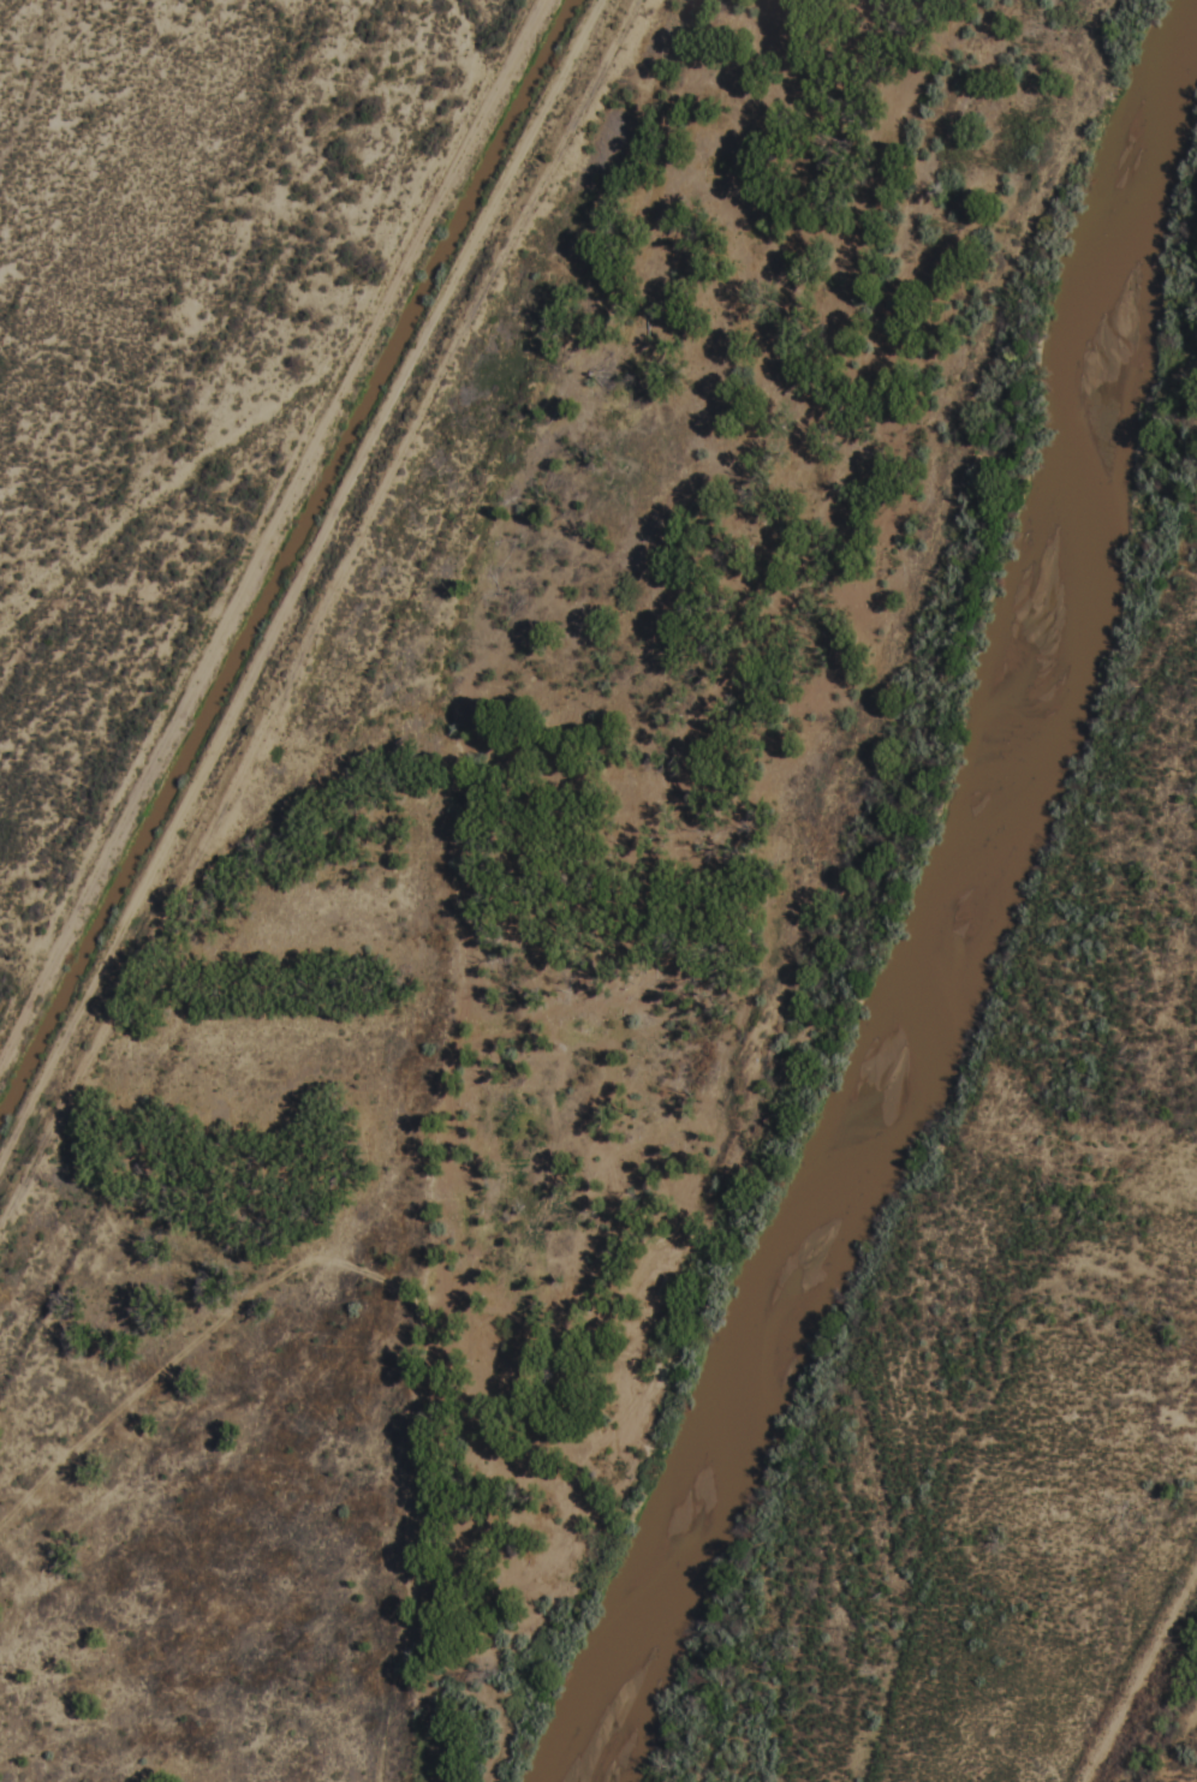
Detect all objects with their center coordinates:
river: (960, 922)

